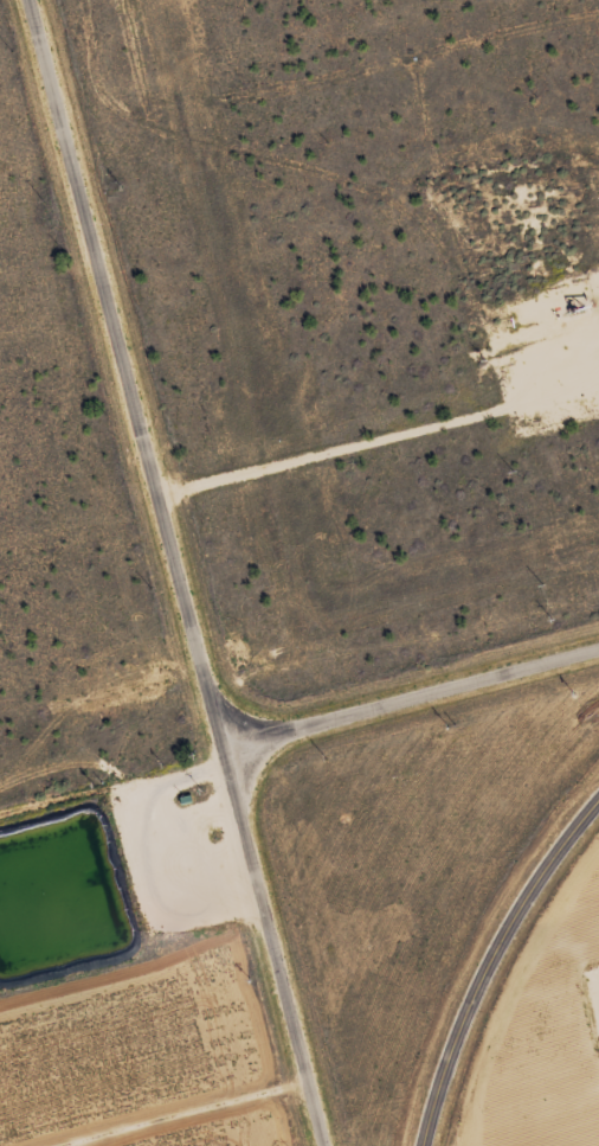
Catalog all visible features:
road: (365, 441)
road: (165, 575)
road: (405, 698)
road: (107, 783)
road: (489, 961)

